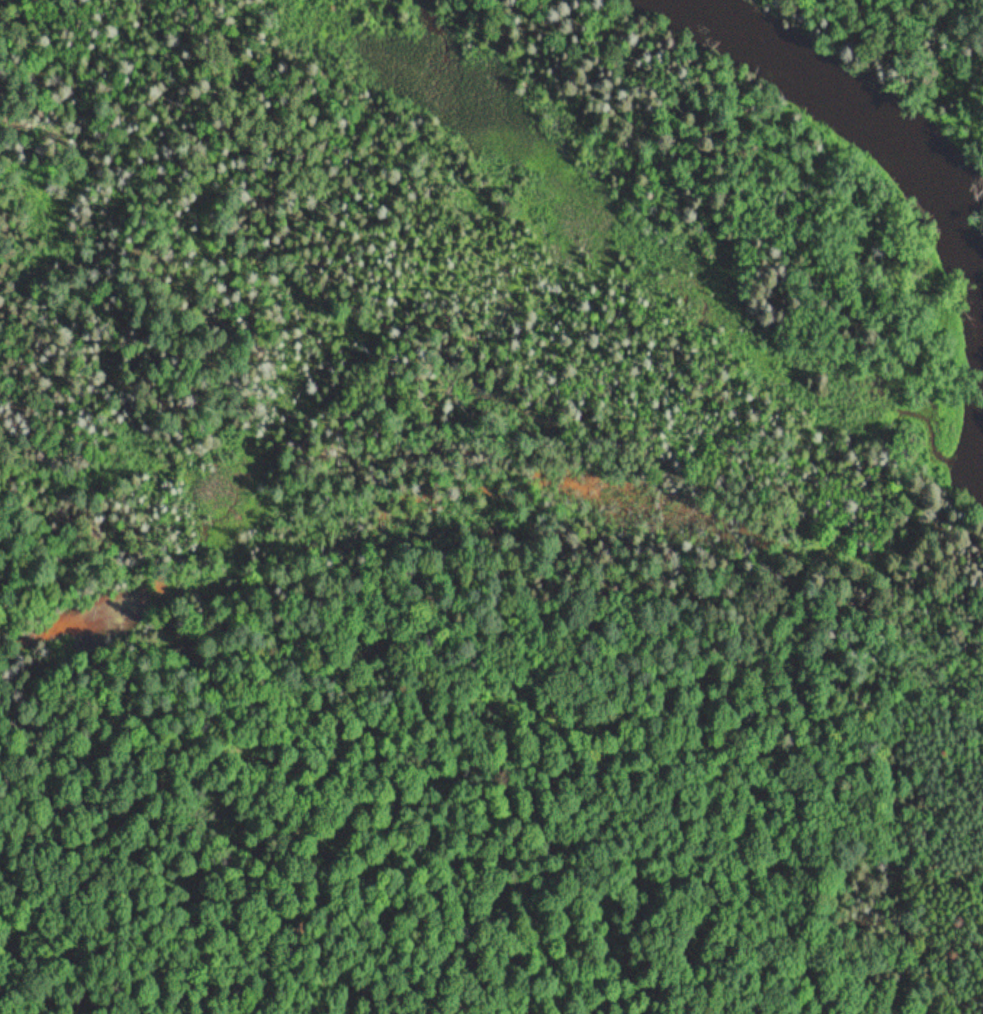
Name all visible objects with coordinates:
river: (836, 81)

